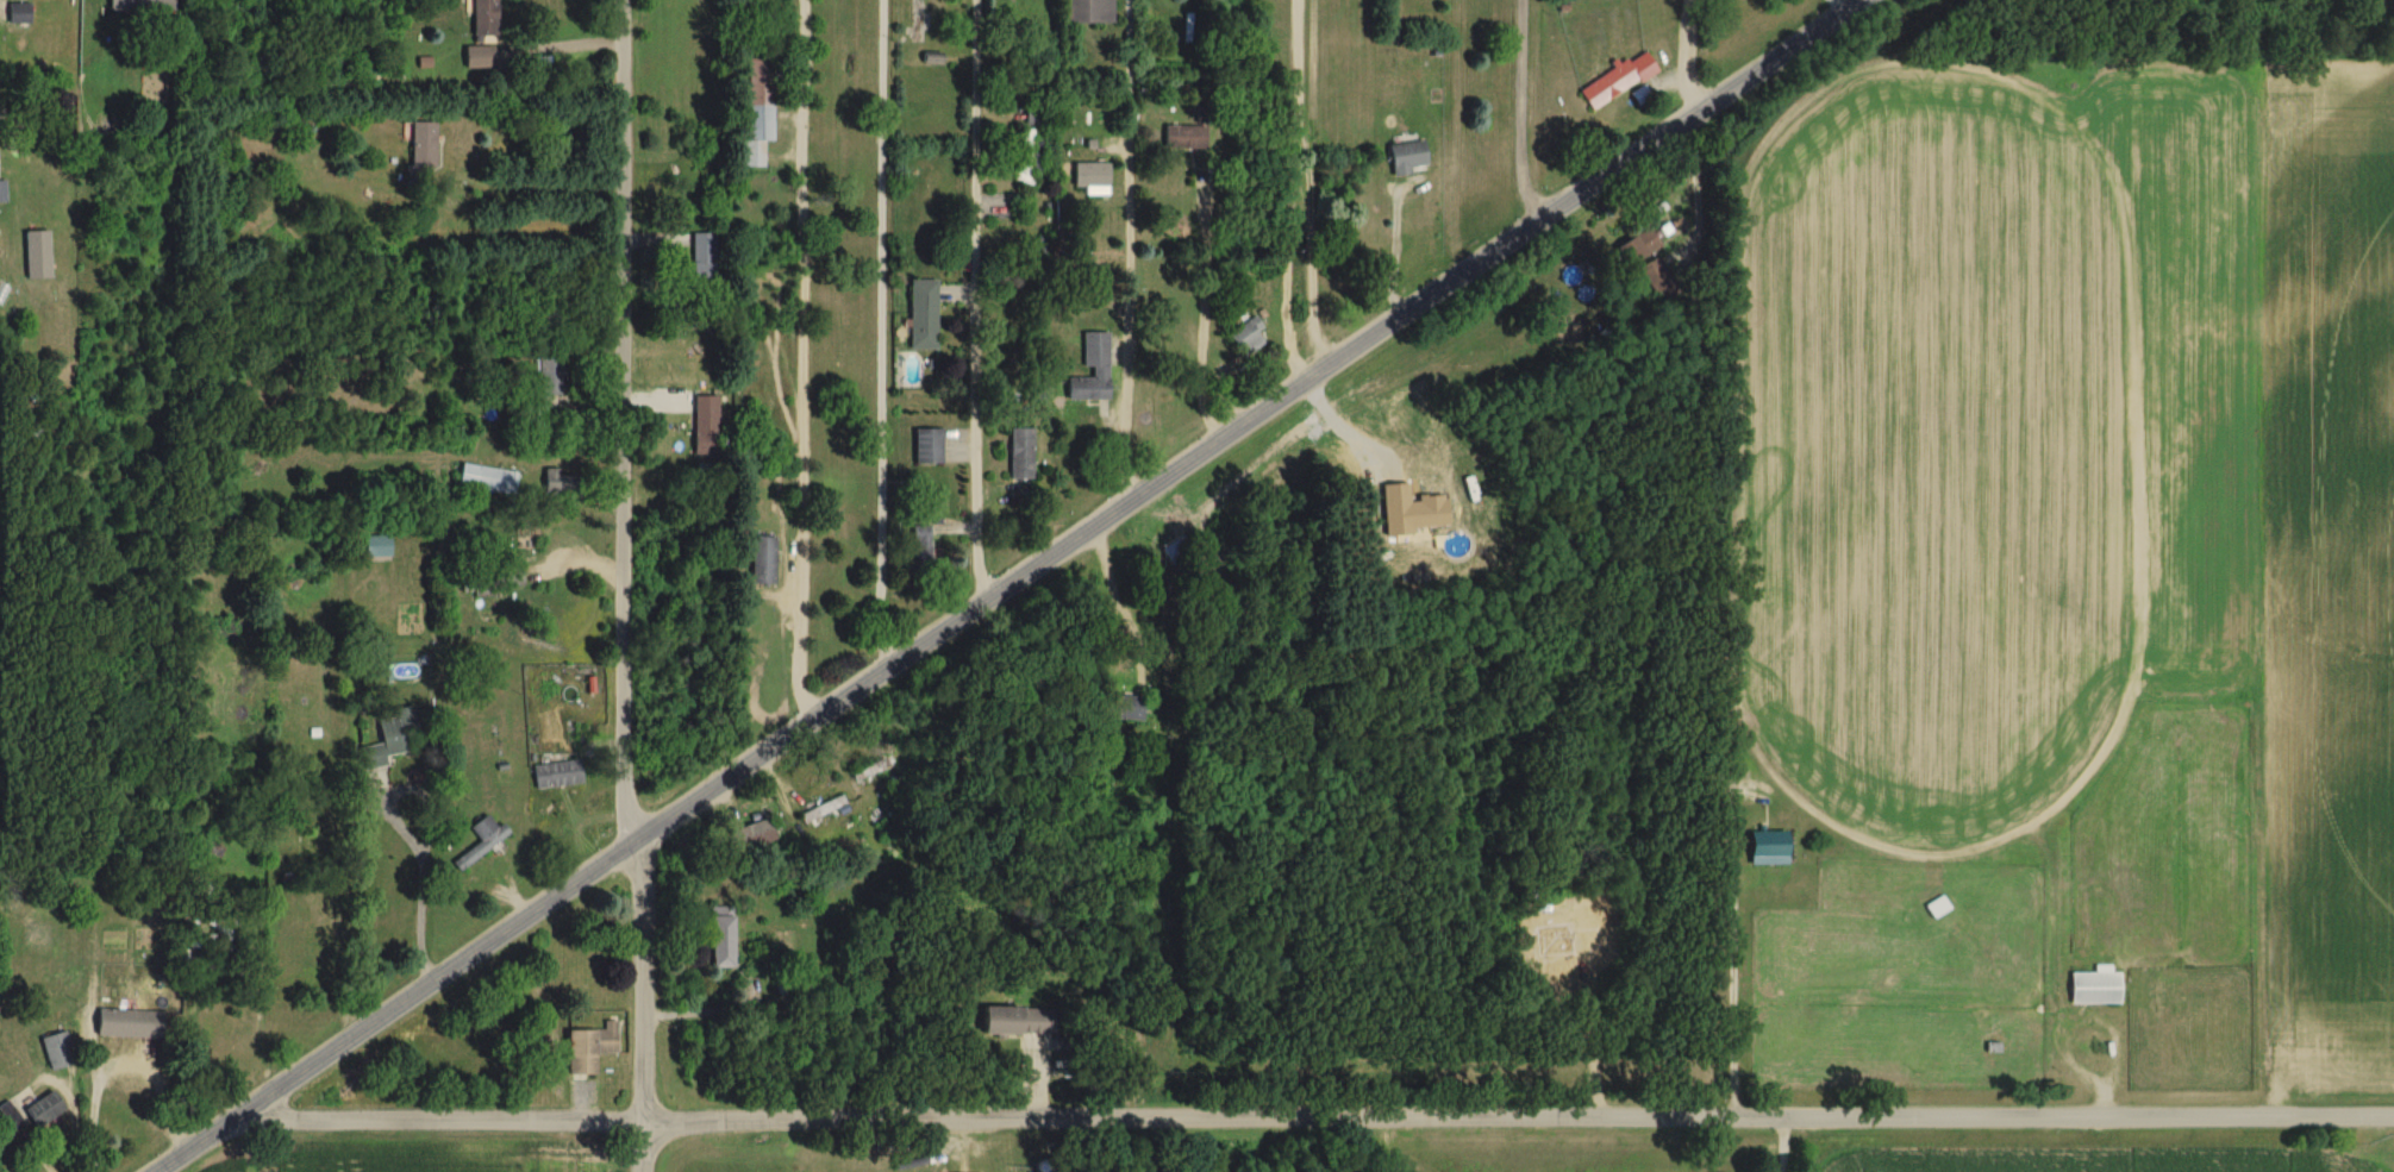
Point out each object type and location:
building: (140, 5)
building: (1088, 11)
building: (17, 13)
building: (483, 18)
road: (1684, 52)
building: (479, 57)
building: (1617, 80)
building: (760, 108)
road: (1534, 109)
building: (1185, 137)
building: (423, 144)
building: (1029, 157)
building: (1406, 157)
building: (1090, 177)
building: (1, 192)
road: (1287, 193)
building: (1637, 247)
road: (1123, 252)
building: (702, 259)
building: (1657, 282)
road: (973, 301)
road: (1201, 306)
building: (921, 315)
road: (880, 333)
building: (1246, 337)
road: (800, 359)
building: (1093, 368)
building: (550, 377)
road: (623, 424)
building: (705, 426)
building: (926, 447)
building: (1019, 455)
building: (487, 481)
building: (561, 484)
building: (919, 543)
building: (1174, 553)
building: (762, 562)
building: (496, 576)
road: (1007, 583)
road: (1115, 600)
building: (1121, 708)
building: (396, 727)
building: (867, 772)
building: (556, 775)
building: (820, 810)
road: (421, 836)
building: (752, 836)
building: (480, 842)
building: (307, 847)
building: (1765, 848)
building: (1936, 908)
building: (720, 941)
road: (1727, 984)
building: (2094, 986)
road: (643, 1009)
building: (1017, 1022)
building: (588, 1049)
building: (57, 1051)
road: (120, 1055)
building: (132, 1084)
building: (44, 1110)
building: (8, 1118)
road: (1318, 1118)
road: (1781, 1145)

